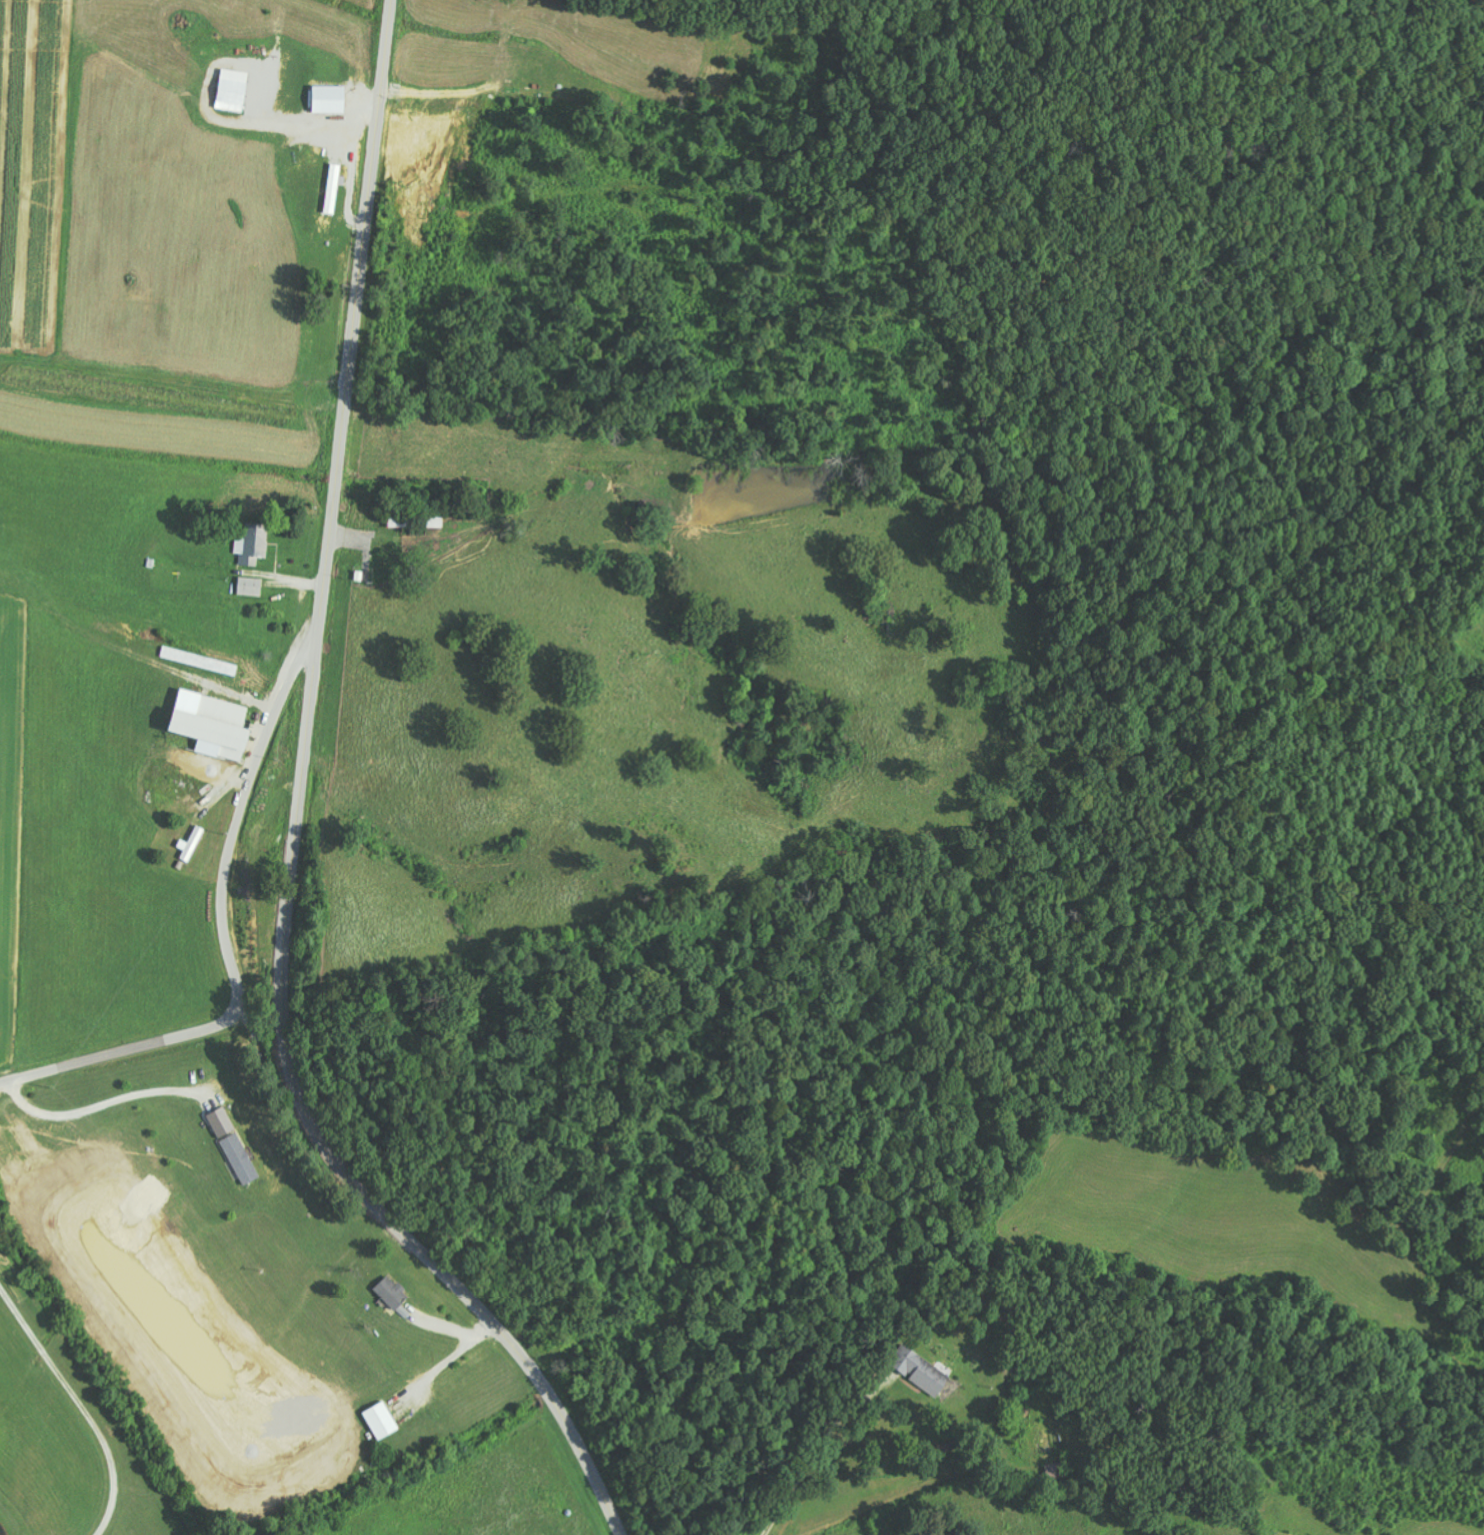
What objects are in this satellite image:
building: (235, 90)
building: (332, 98)
building: (418, 522)
building: (254, 544)
building: (251, 587)
building: (201, 661)
building: (215, 725)
road: (299, 821)
building: (192, 845)
road: (225, 932)
road: (894, 967)
road: (269, 1082)
building: (235, 1145)
road: (876, 1178)
building: (393, 1290)
building: (923, 1370)
building: (384, 1420)

